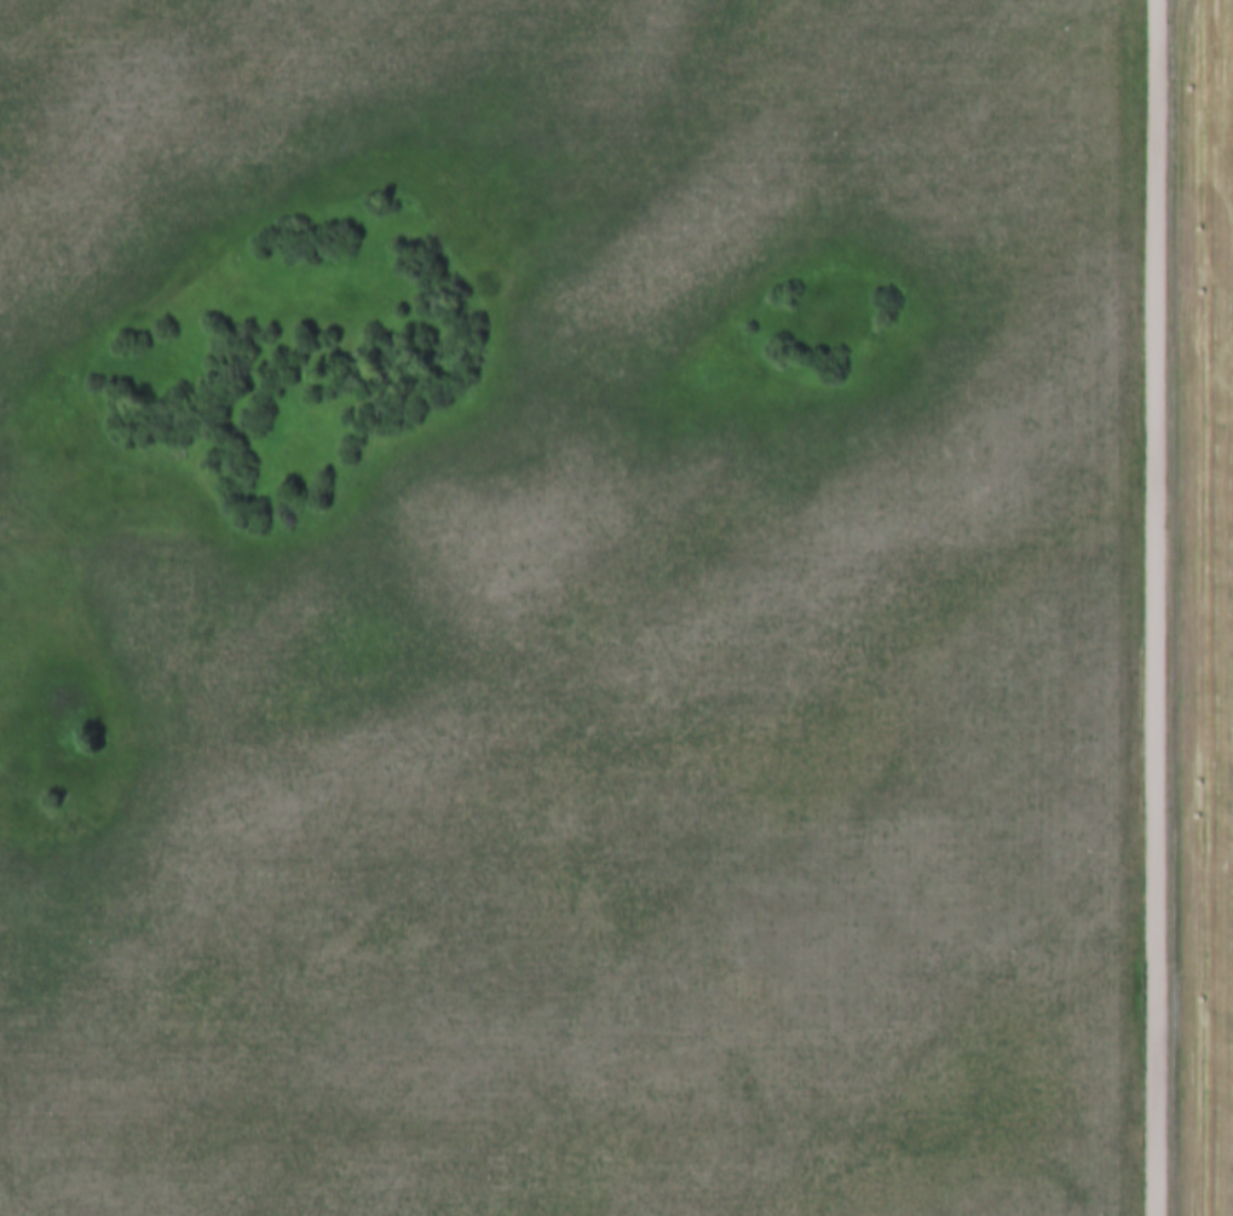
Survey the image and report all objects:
road: (1159, 607)

